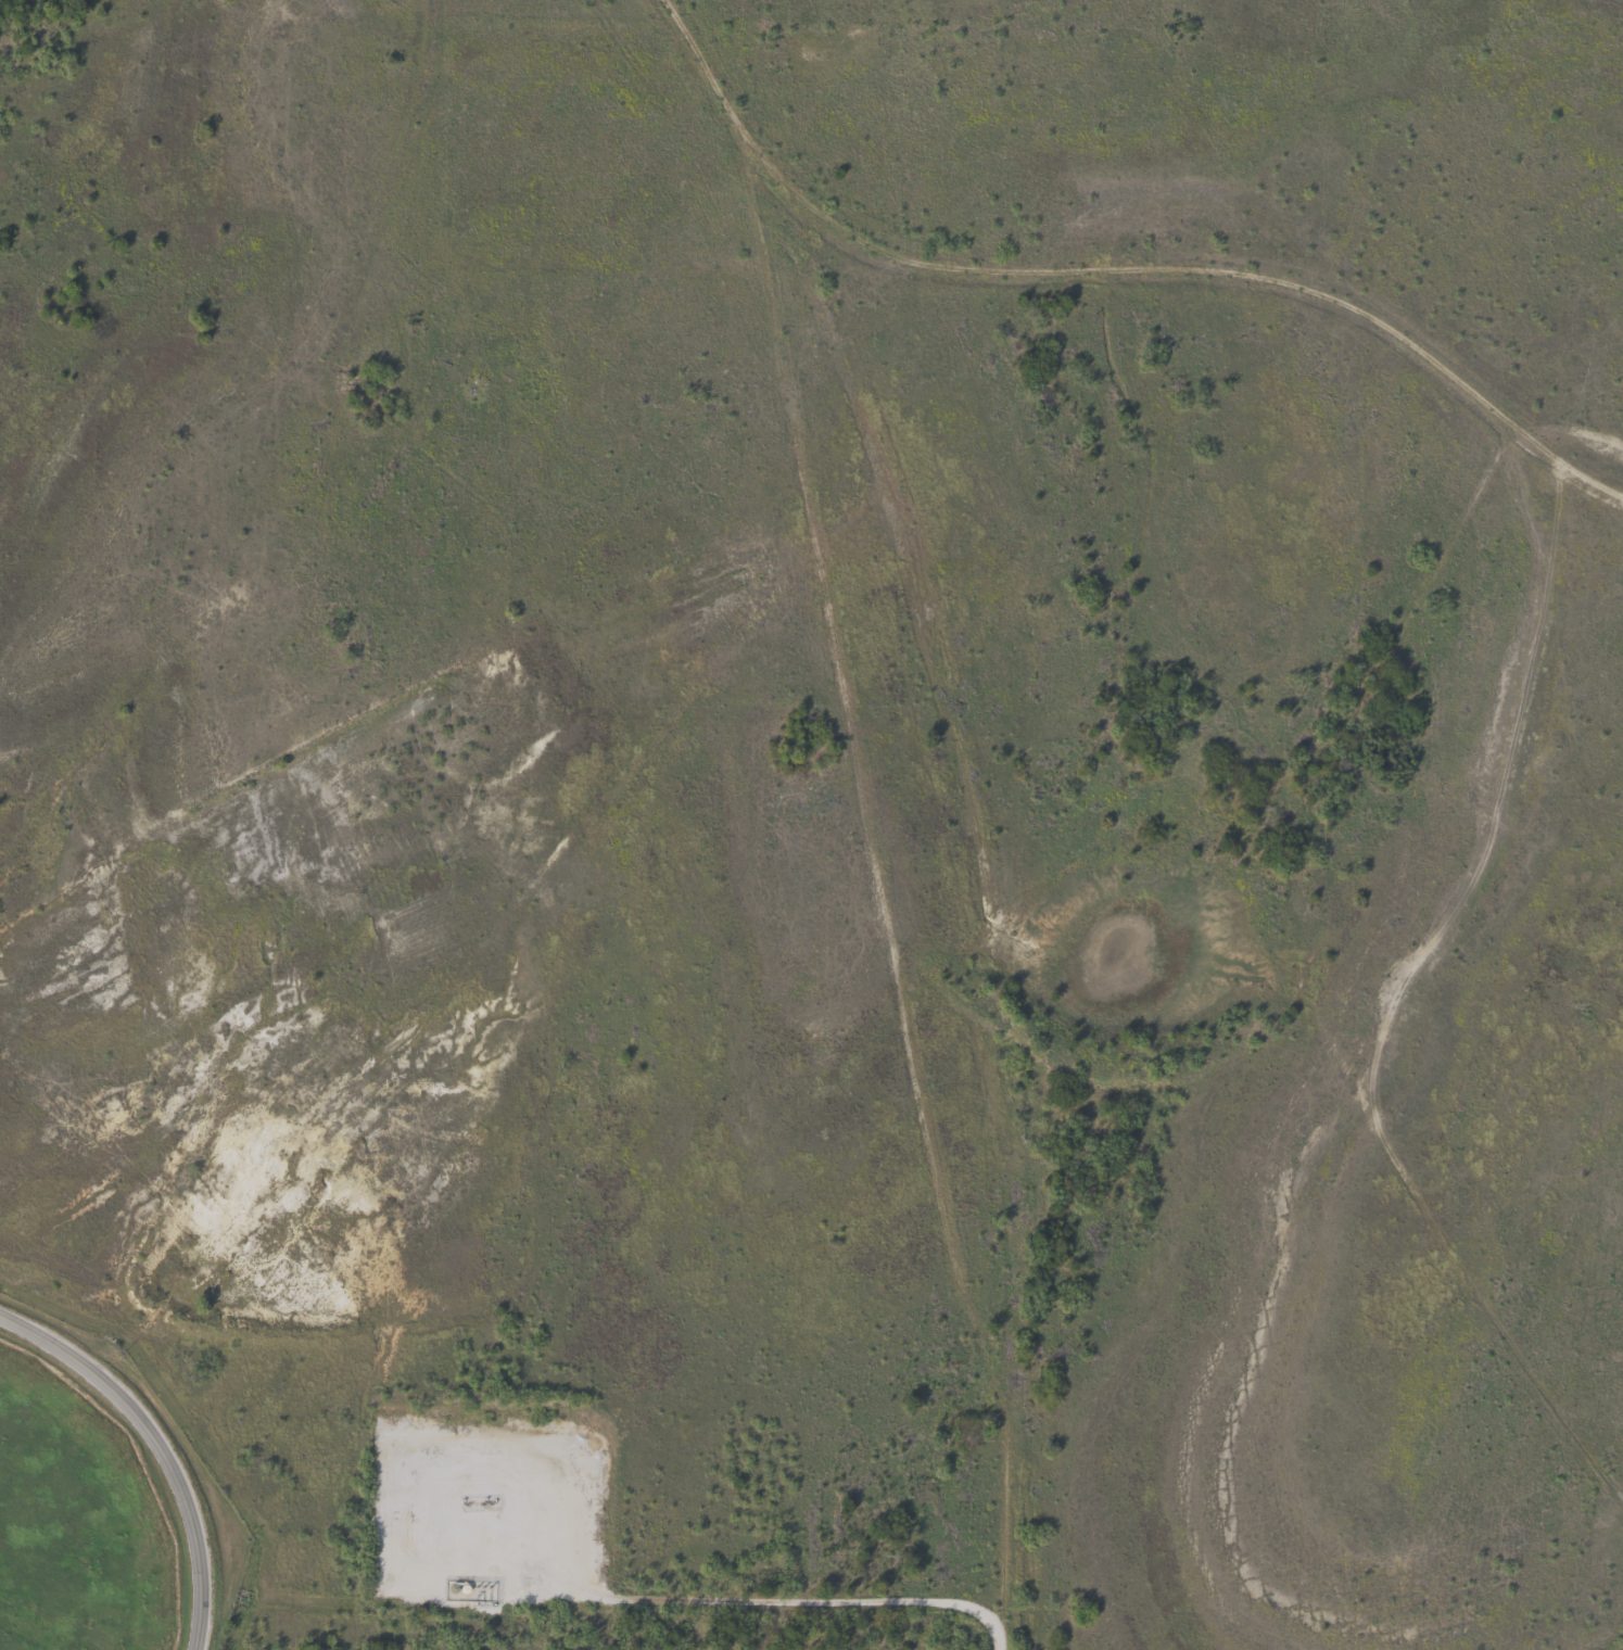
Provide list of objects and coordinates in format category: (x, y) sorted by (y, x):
road: (1115, 274)
road: (167, 1436)

